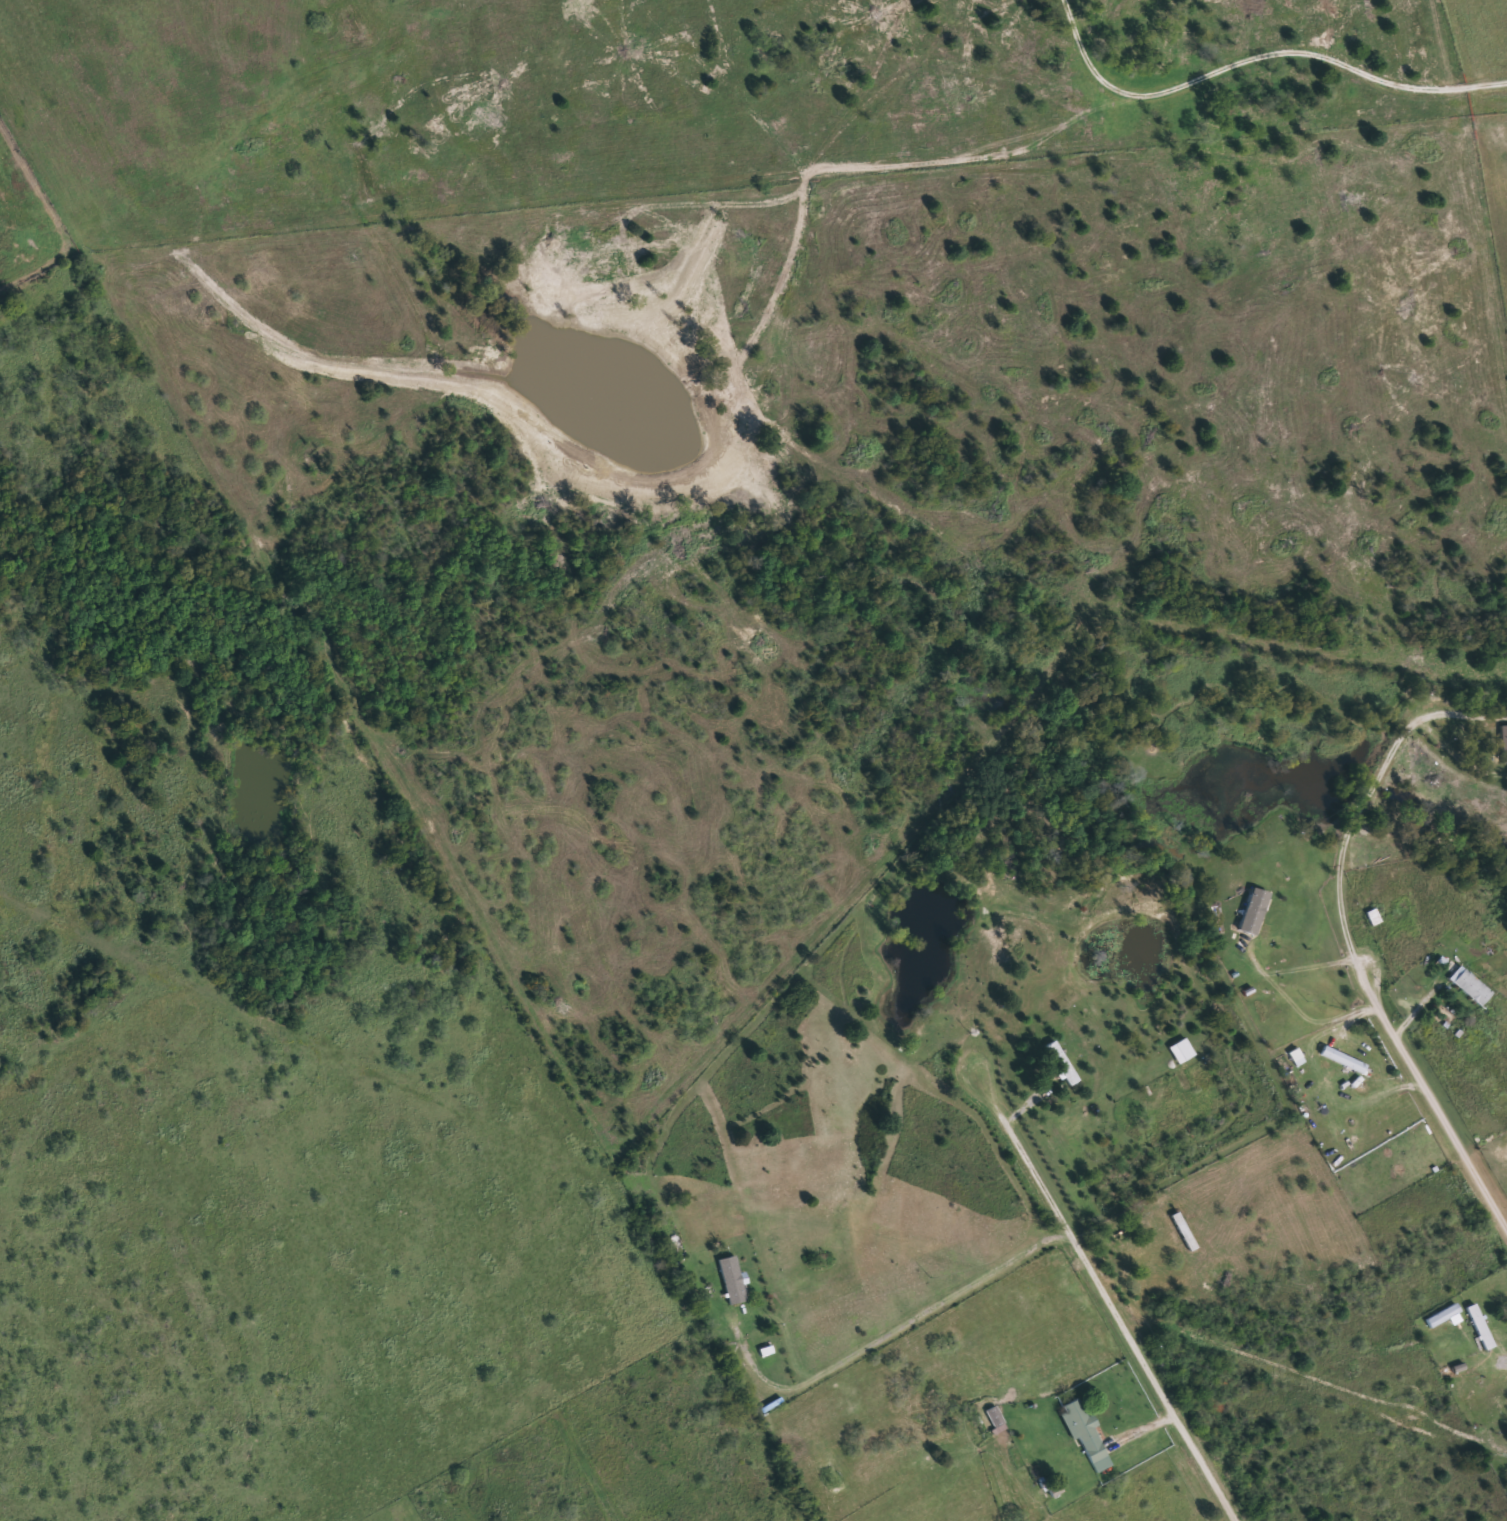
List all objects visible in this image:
road: (1082, 47)
building: (1504, 743)
building: (1253, 911)
road: (1344, 932)
building: (1471, 988)
building: (1184, 1051)
building: (1299, 1057)
building: (1343, 1059)
building: (1061, 1063)
road: (1096, 1280)
building: (727, 1283)
building: (1482, 1327)
building: (995, 1417)
building: (1086, 1435)

